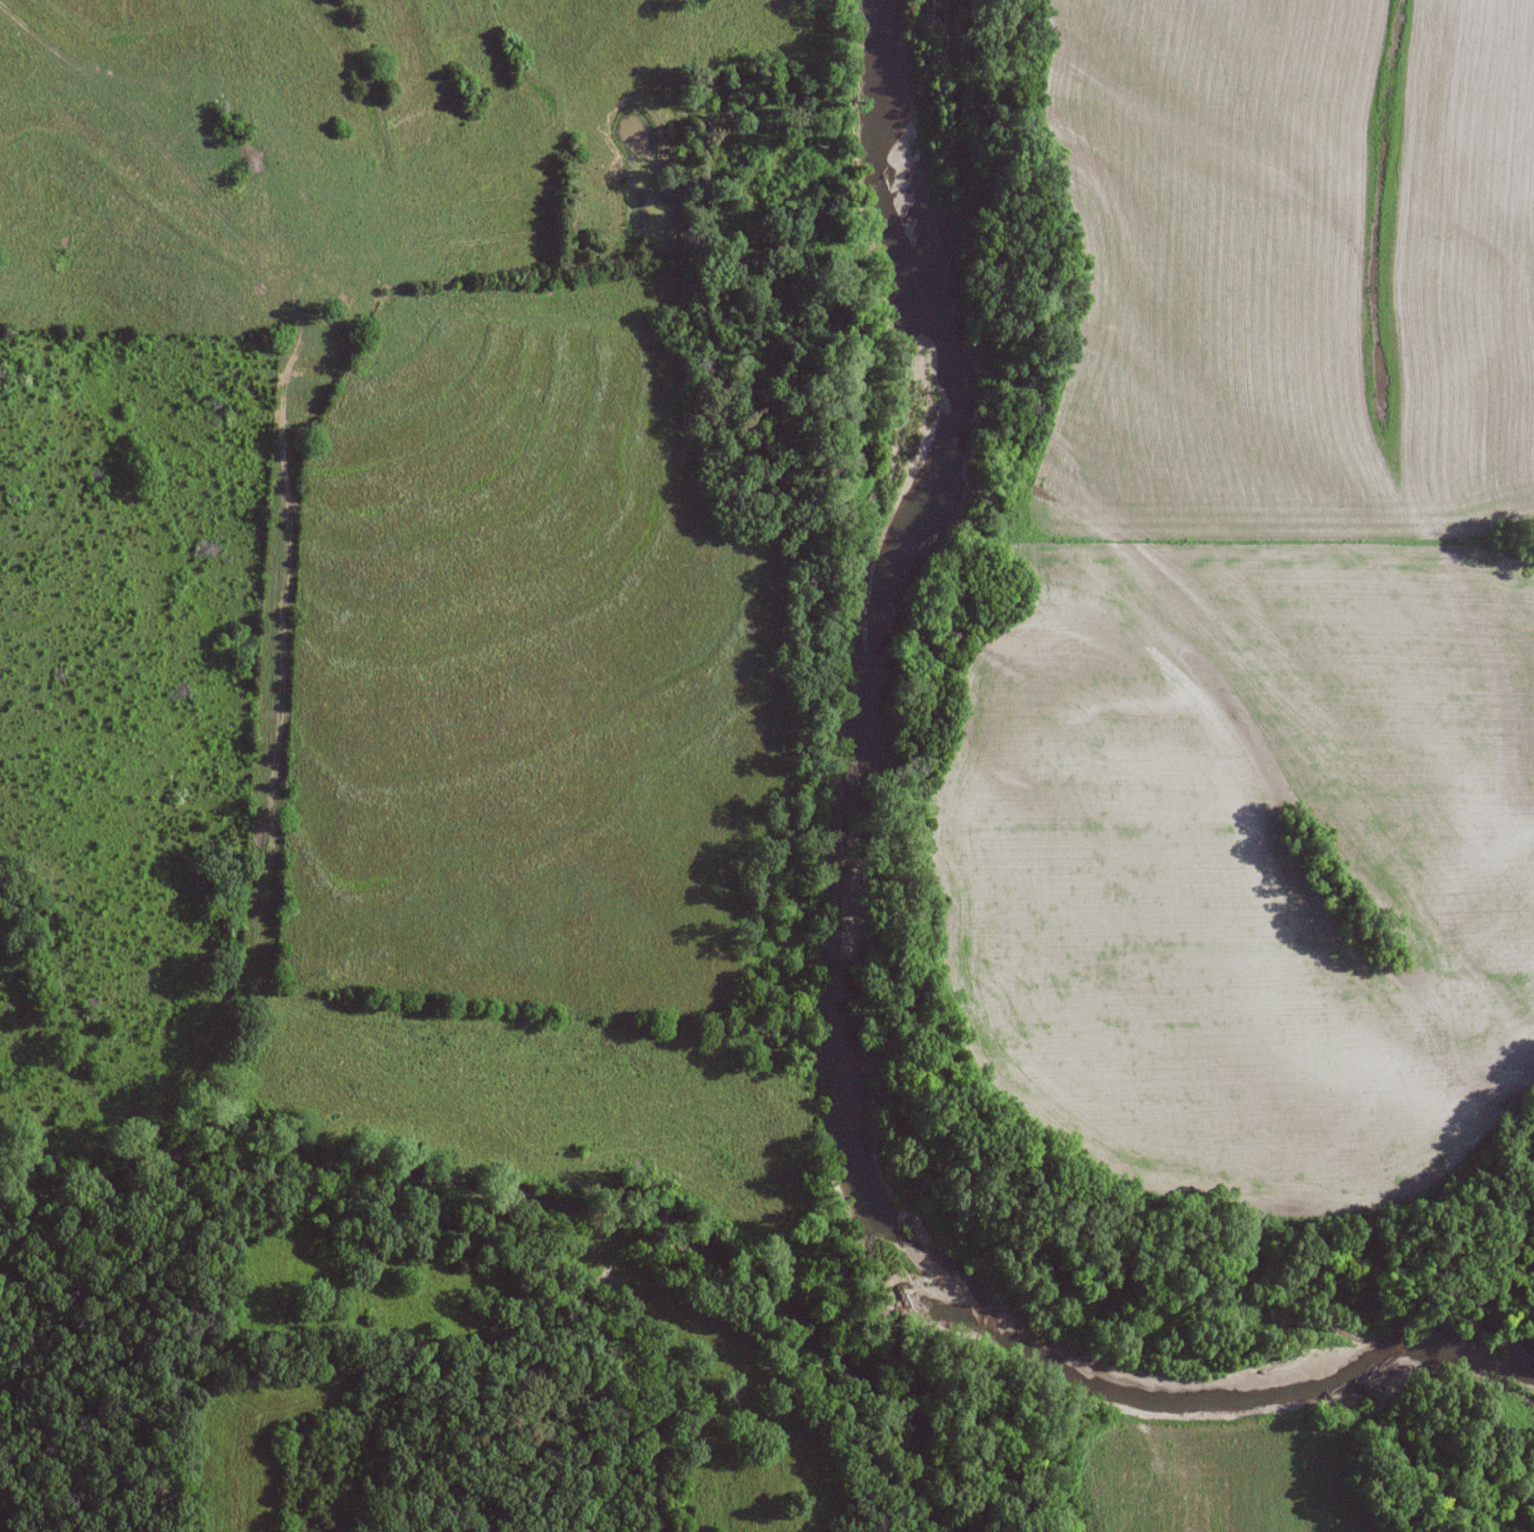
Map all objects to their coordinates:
crop: (1285, 268)
crop: (1241, 857)
river: (842, 961)

